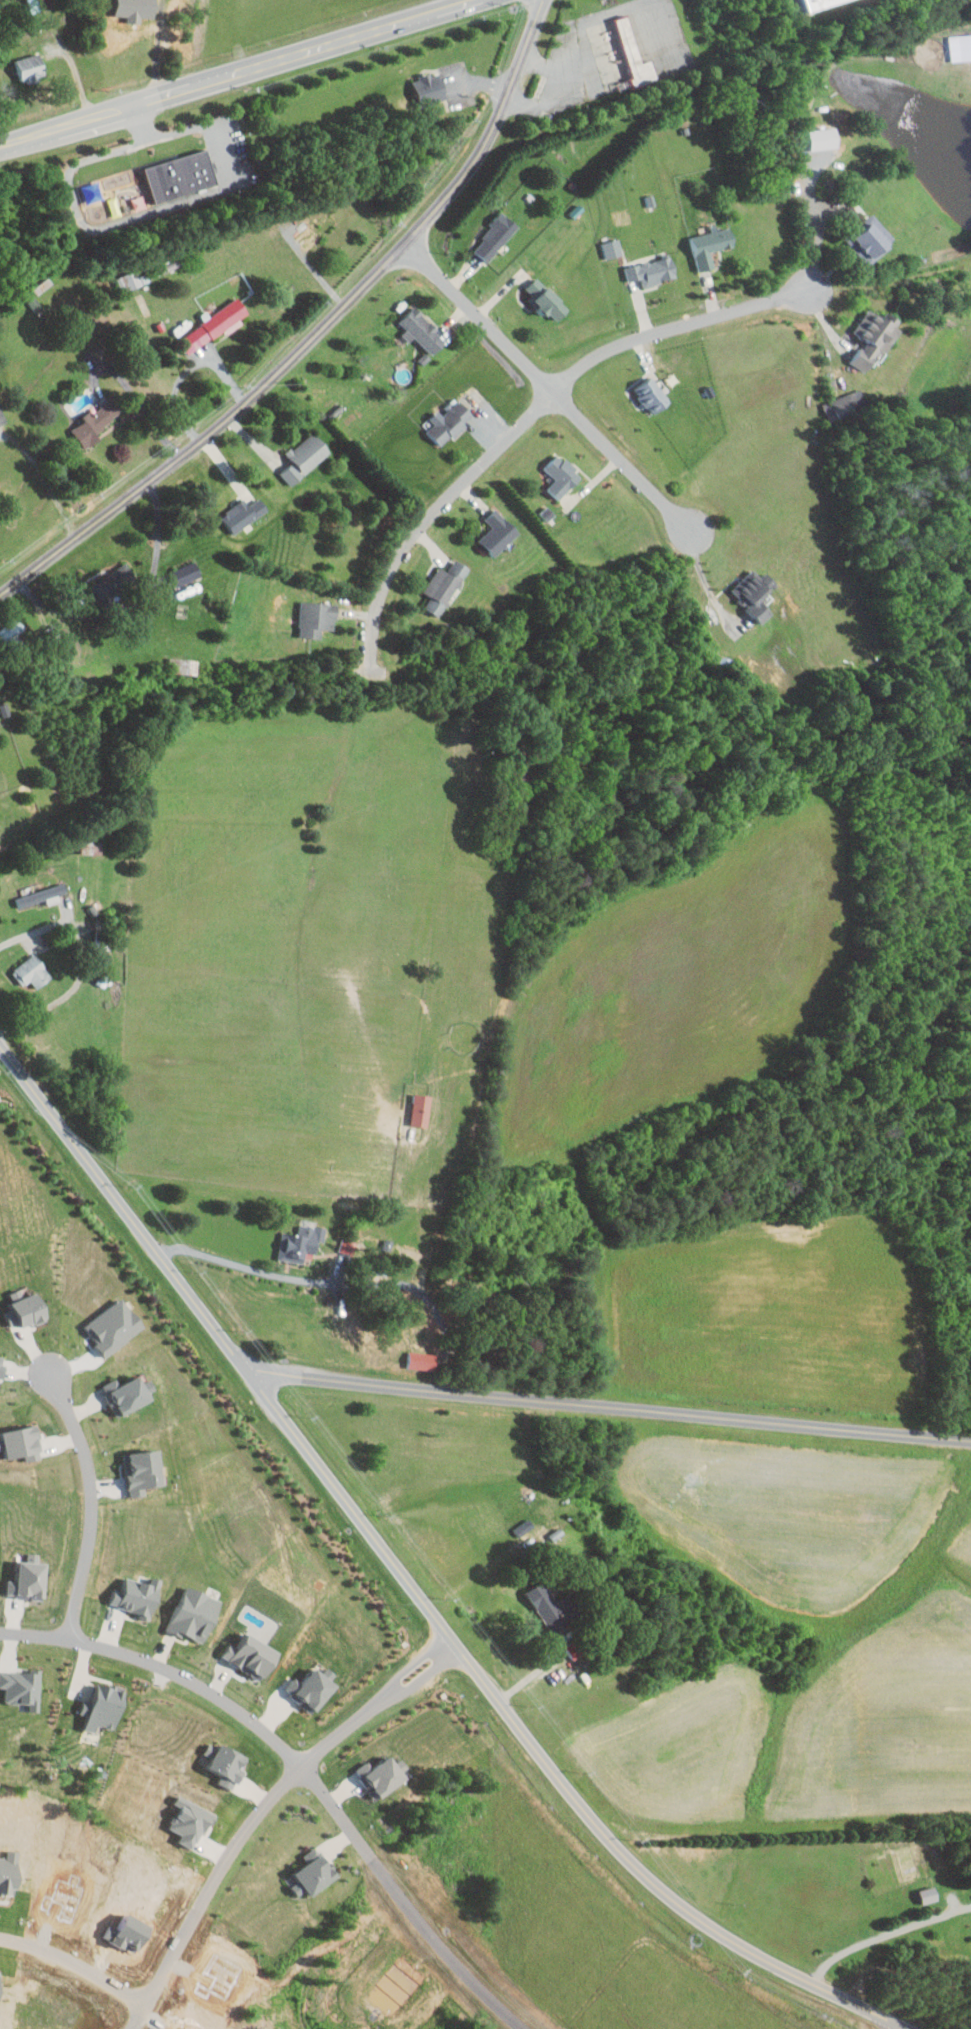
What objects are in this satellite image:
building: (819, 4)
building: (960, 47)
road: (160, 48)
building: (632, 56)
building: (31, 67)
road: (235, 73)
building: (430, 88)
road: (554, 91)
building: (181, 177)
building: (496, 236)
building: (871, 238)
road: (817, 240)
building: (711, 244)
building: (613, 248)
building: (654, 271)
building: (129, 280)
building: (46, 299)
building: (548, 299)
building: (218, 322)
building: (422, 329)
road: (676, 329)
road: (316, 333)
building: (873, 339)
road: (187, 370)
road: (550, 390)
building: (653, 394)
building: (846, 400)
road: (142, 405)
building: (2, 416)
building: (97, 422)
building: (306, 457)
building: (562, 475)
road: (50, 488)
building: (245, 514)
road: (432, 518)
building: (498, 532)
building: (187, 573)
building: (114, 583)
road: (707, 583)
building: (445, 586)
building: (755, 593)
road: (133, 601)
building: (317, 618)
building: (13, 631)
building: (184, 666)
building: (42, 895)
road: (84, 960)
building: (33, 972)
building: (422, 1110)
building: (302, 1242)
road: (243, 1267)
building: (26, 1309)
building: (423, 1360)
building: (2, 1366)
building: (130, 1394)
road: (610, 1408)
building: (22, 1442)
road: (91, 1506)
building: (531, 1532)
building: (29, 1579)
road: (411, 1584)
building: (548, 1607)
building: (196, 1613)
building: (252, 1655)
building: (22, 1687)
road: (385, 1696)
building: (104, 1707)
road: (300, 1769)
building: (375, 1773)
road: (236, 1846)
building: (317, 1873)
building: (298, 1888)
road: (885, 1935)
road: (77, 1963)
road: (892, 2025)

